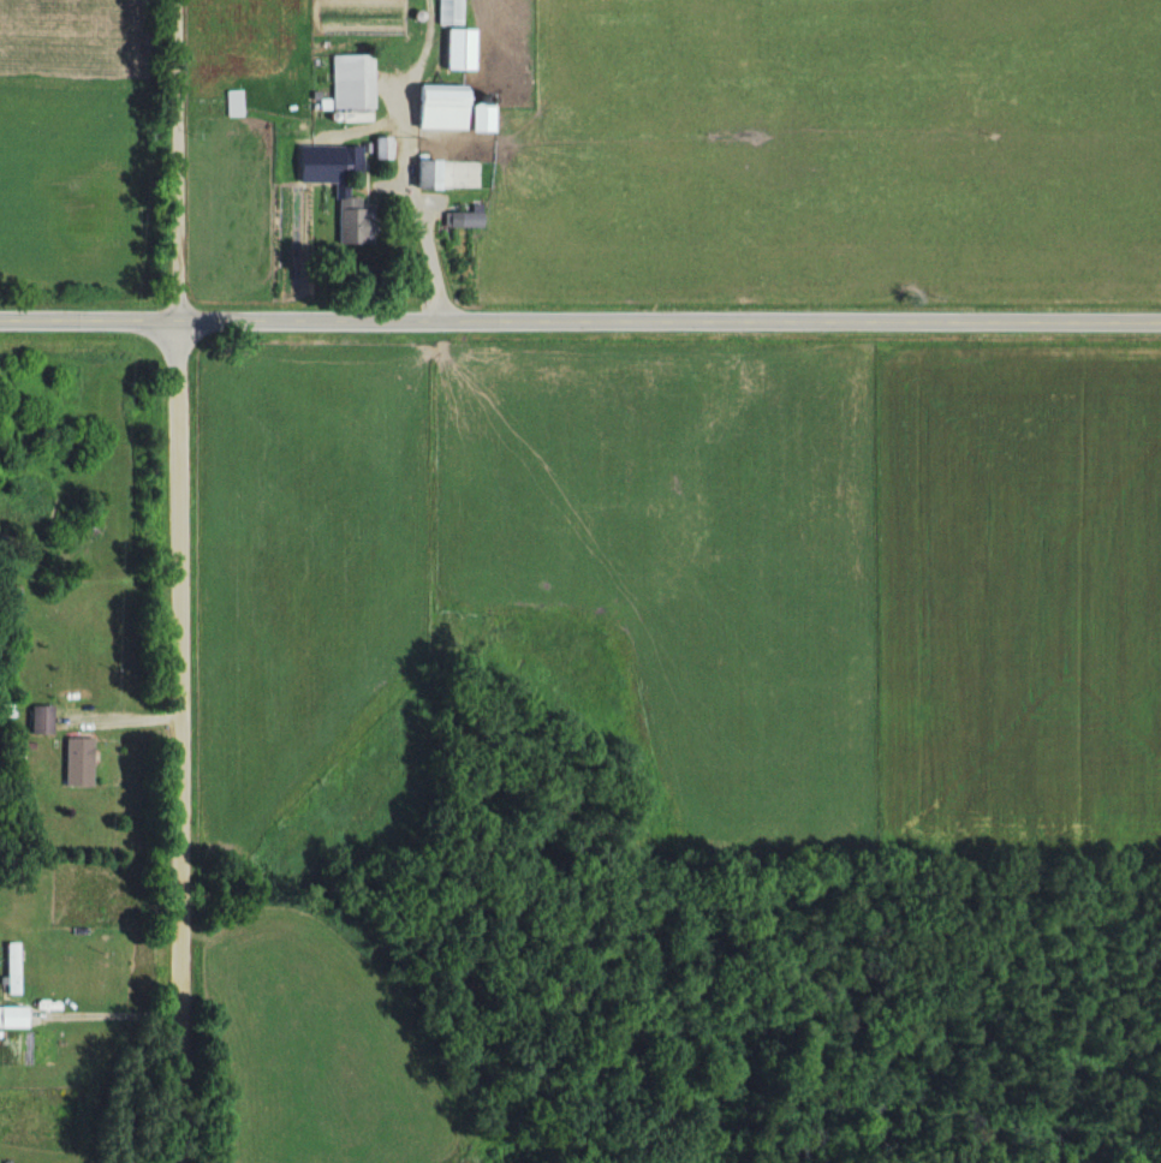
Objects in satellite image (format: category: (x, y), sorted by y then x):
building: (446, 12)
building: (351, 82)
building: (232, 105)
building: (434, 109)
building: (379, 149)
building: (345, 160)
building: (425, 174)
building: (344, 219)
building: (459, 222)
road: (580, 316)
road: (178, 581)
building: (44, 724)
building: (81, 762)
building: (13, 970)
road: (107, 1015)

